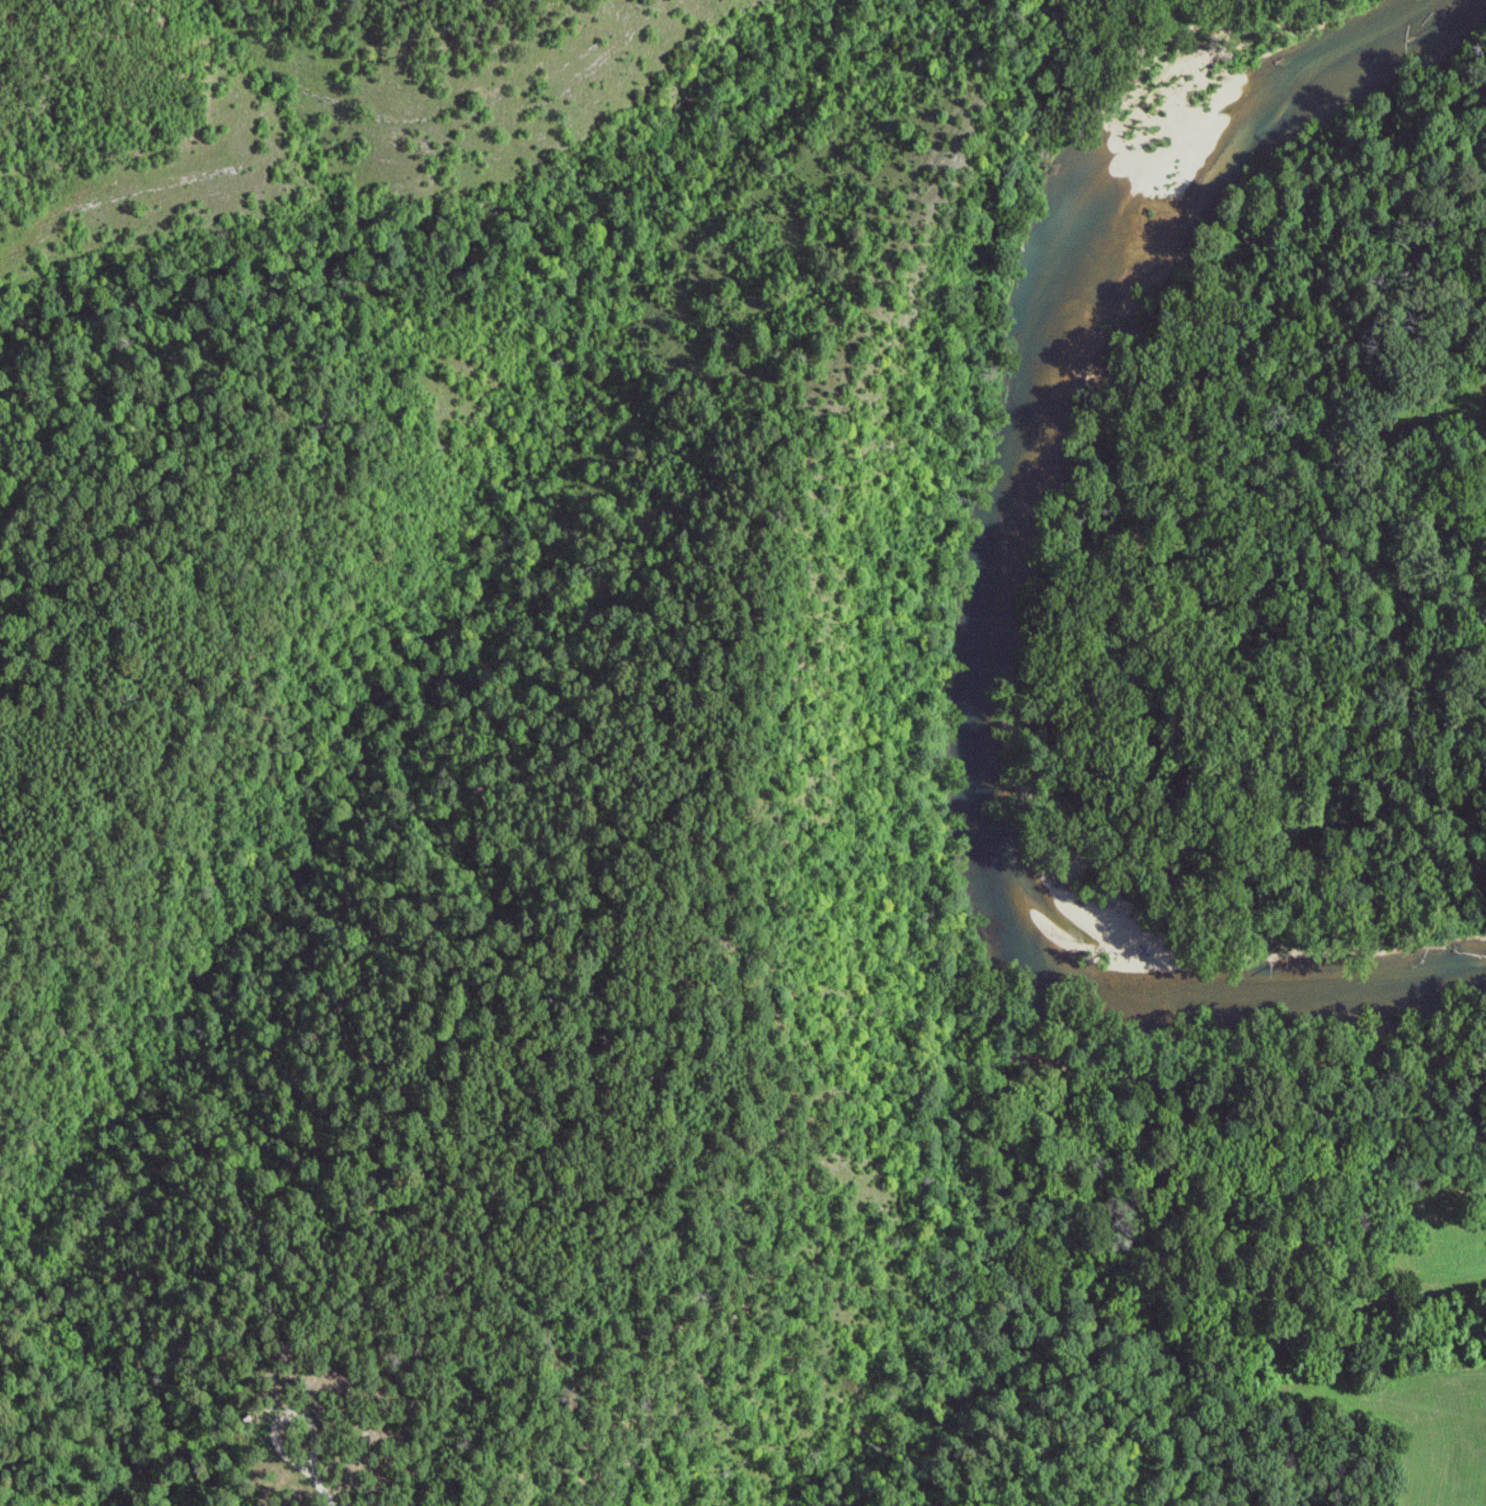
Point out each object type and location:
river: (973, 626)

